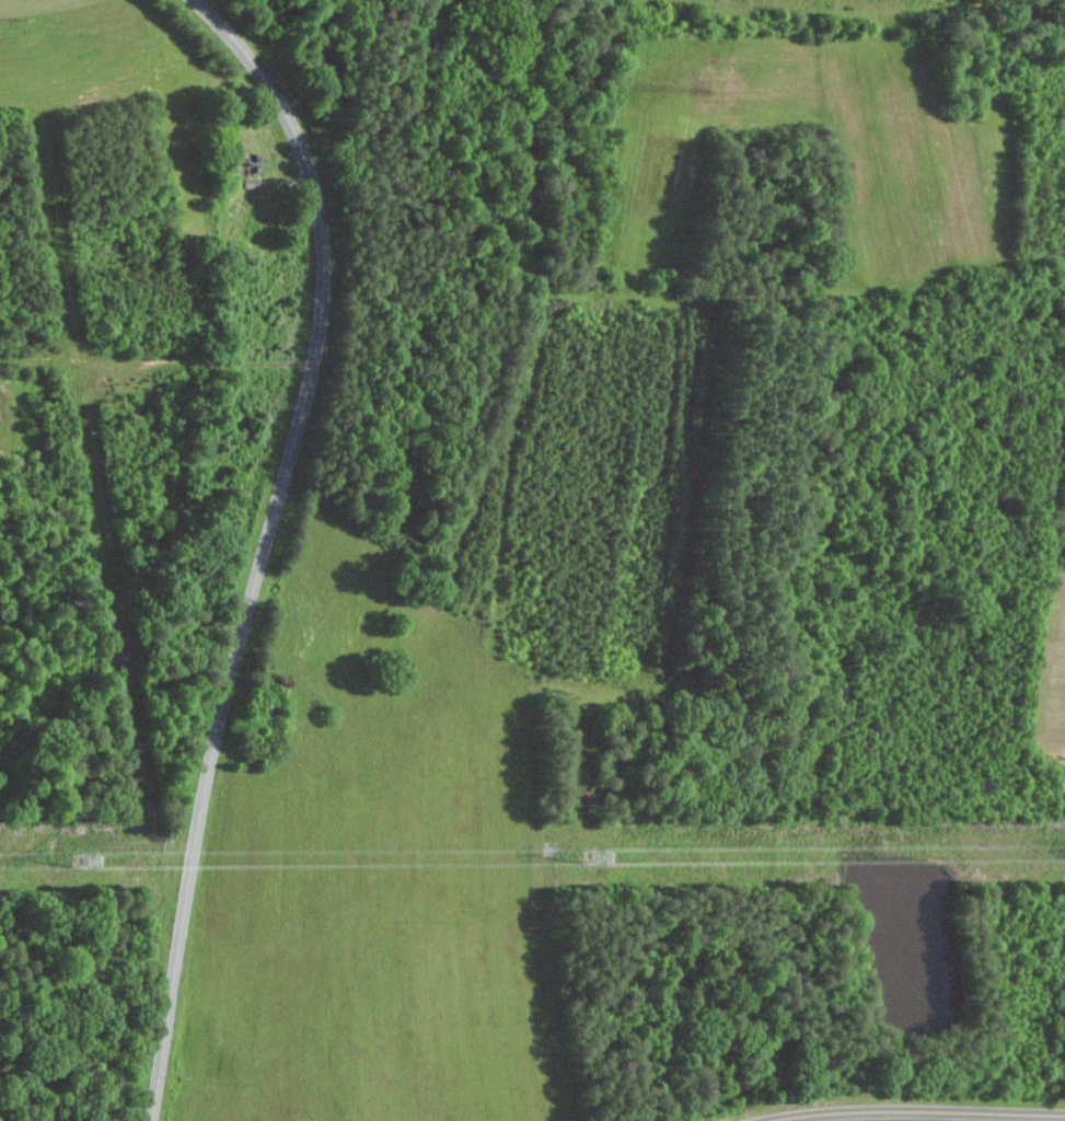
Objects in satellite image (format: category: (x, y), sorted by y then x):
road: (258, 538)
power tower: (595, 857)
power tower: (84, 860)
road: (923, 1111)

